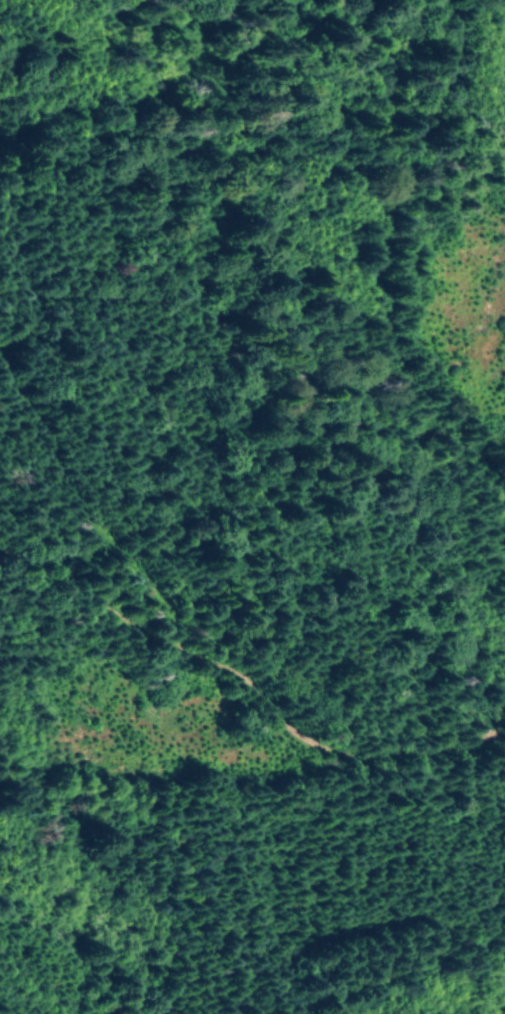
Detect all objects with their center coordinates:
road: (325, 208)
road: (249, 663)

